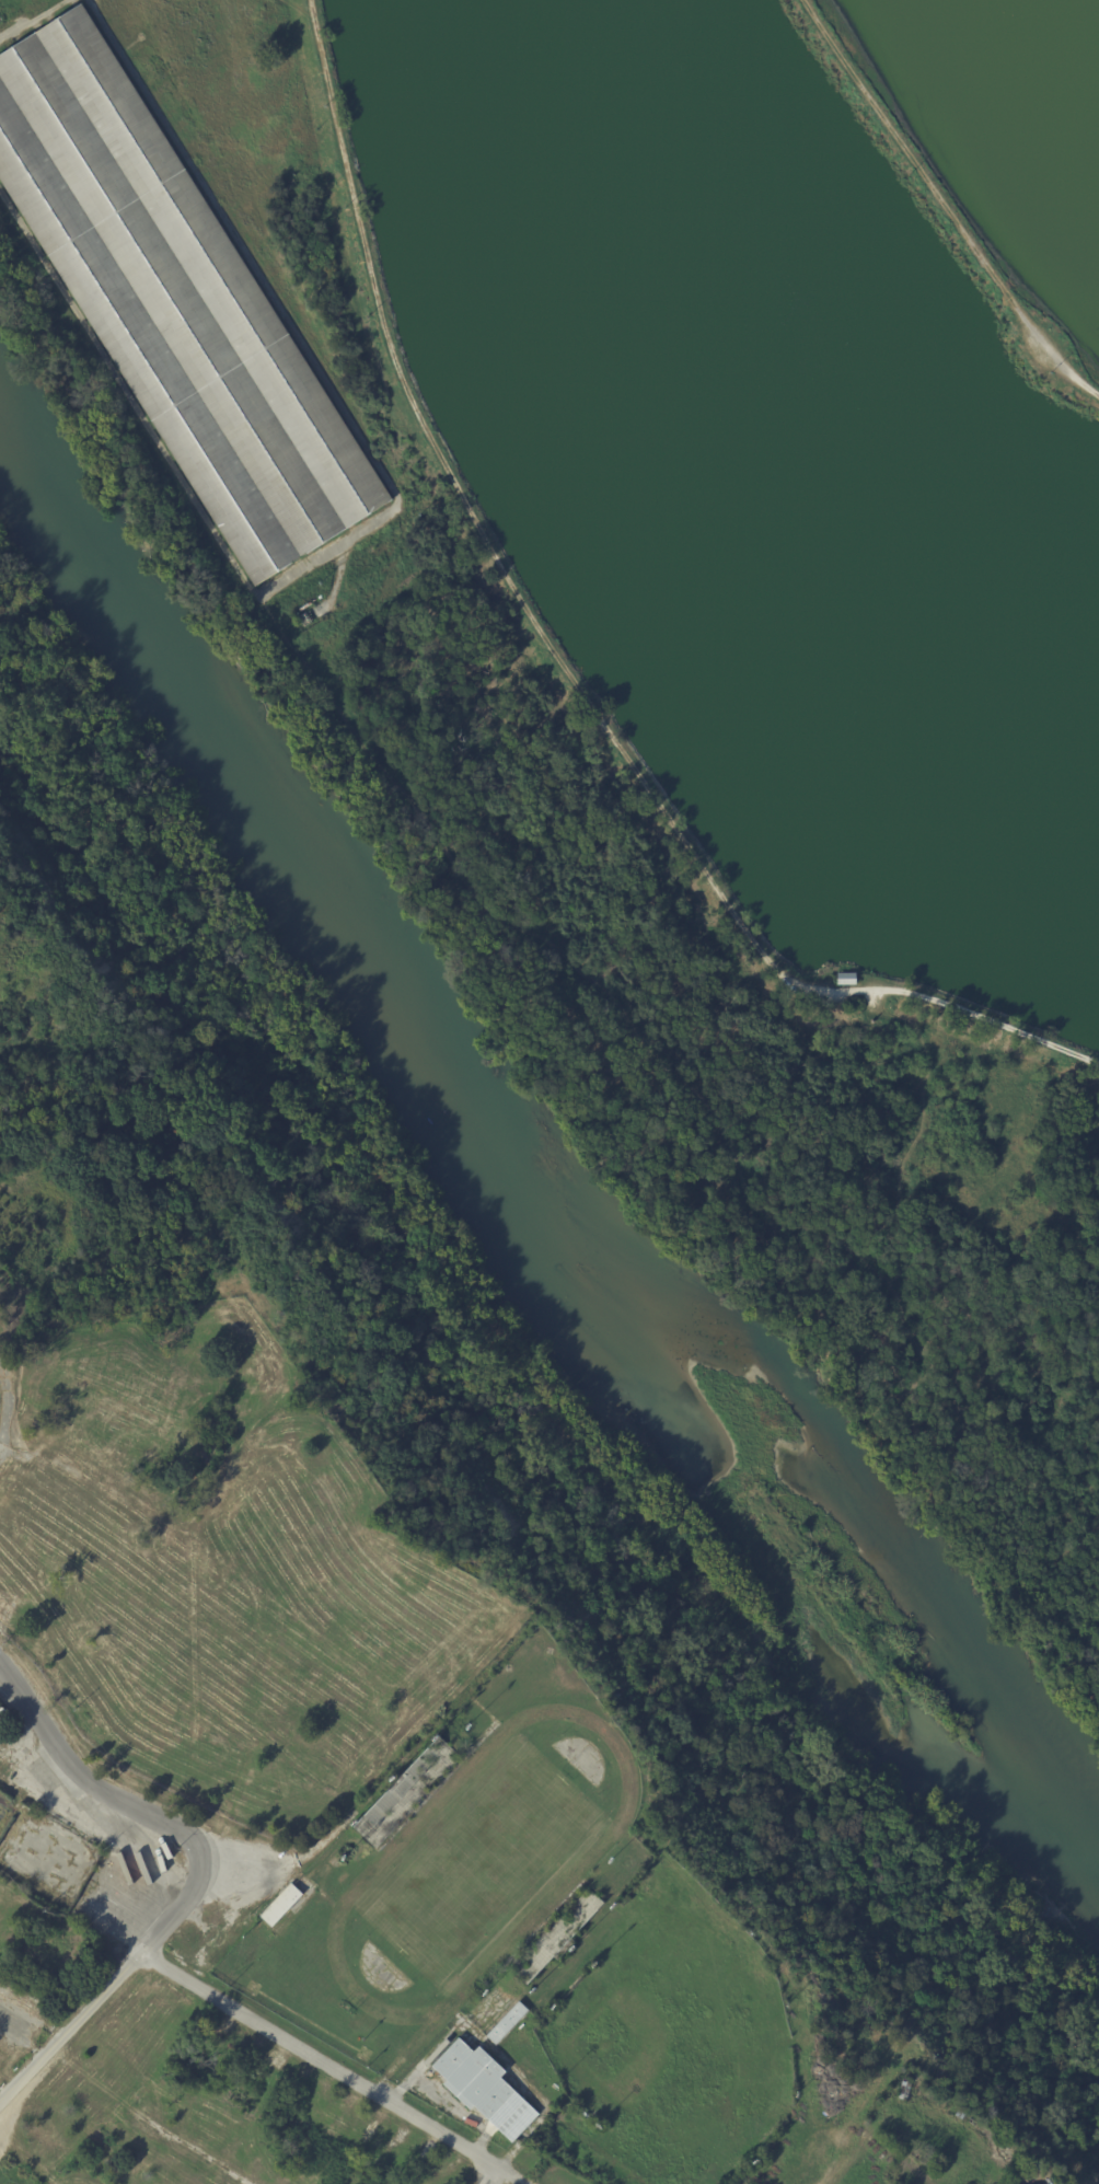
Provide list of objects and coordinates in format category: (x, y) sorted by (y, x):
road: (311, 5)
road: (33, 21)
road: (902, 142)
road: (244, 251)
building: (174, 303)
road: (1044, 345)
wastewater plant: (641, 393)
road: (126, 396)
road: (462, 500)
road: (327, 551)
building: (320, 598)
building: (303, 605)
building: (303, 619)
building: (847, 980)
road: (915, 995)
parking lot: (840, 999)
road: (669, 1060)
road: (916, 1129)
river: (524, 1170)
road: (851, 1360)
road: (1074, 1671)
building: (2, 1713)
road: (77, 1779)
building: (405, 1791)
building: (279, 1904)
road: (116, 1981)
building: (506, 2022)
building: (483, 2088)

